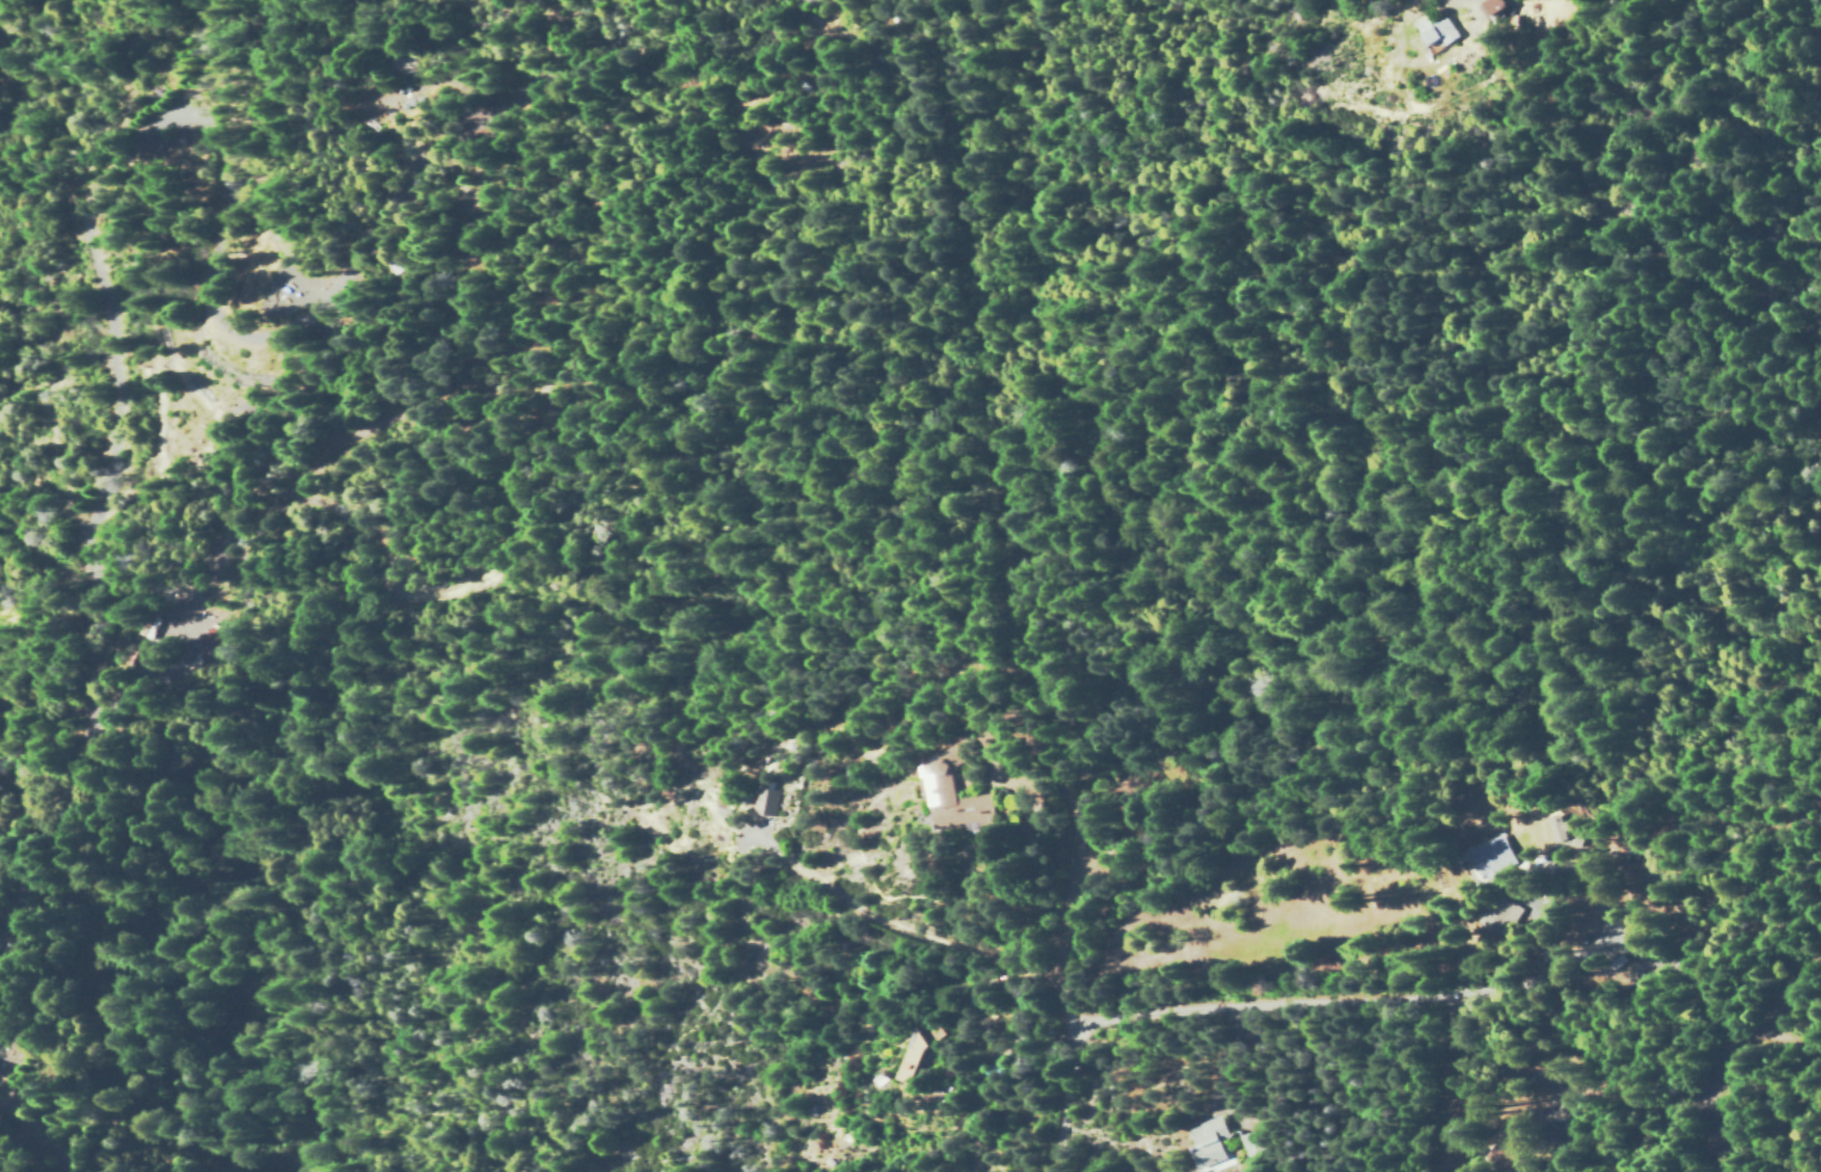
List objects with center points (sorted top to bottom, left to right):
building: (1495, 6)
building: (1439, 30)
building: (216, 635)
road: (1477, 701)
building: (957, 748)
road: (1058, 795)
building: (765, 801)
building: (953, 801)
building: (1556, 827)
building: (1492, 856)
building: (919, 1053)
road: (1073, 1062)
building: (1247, 1142)
building: (1209, 1145)

